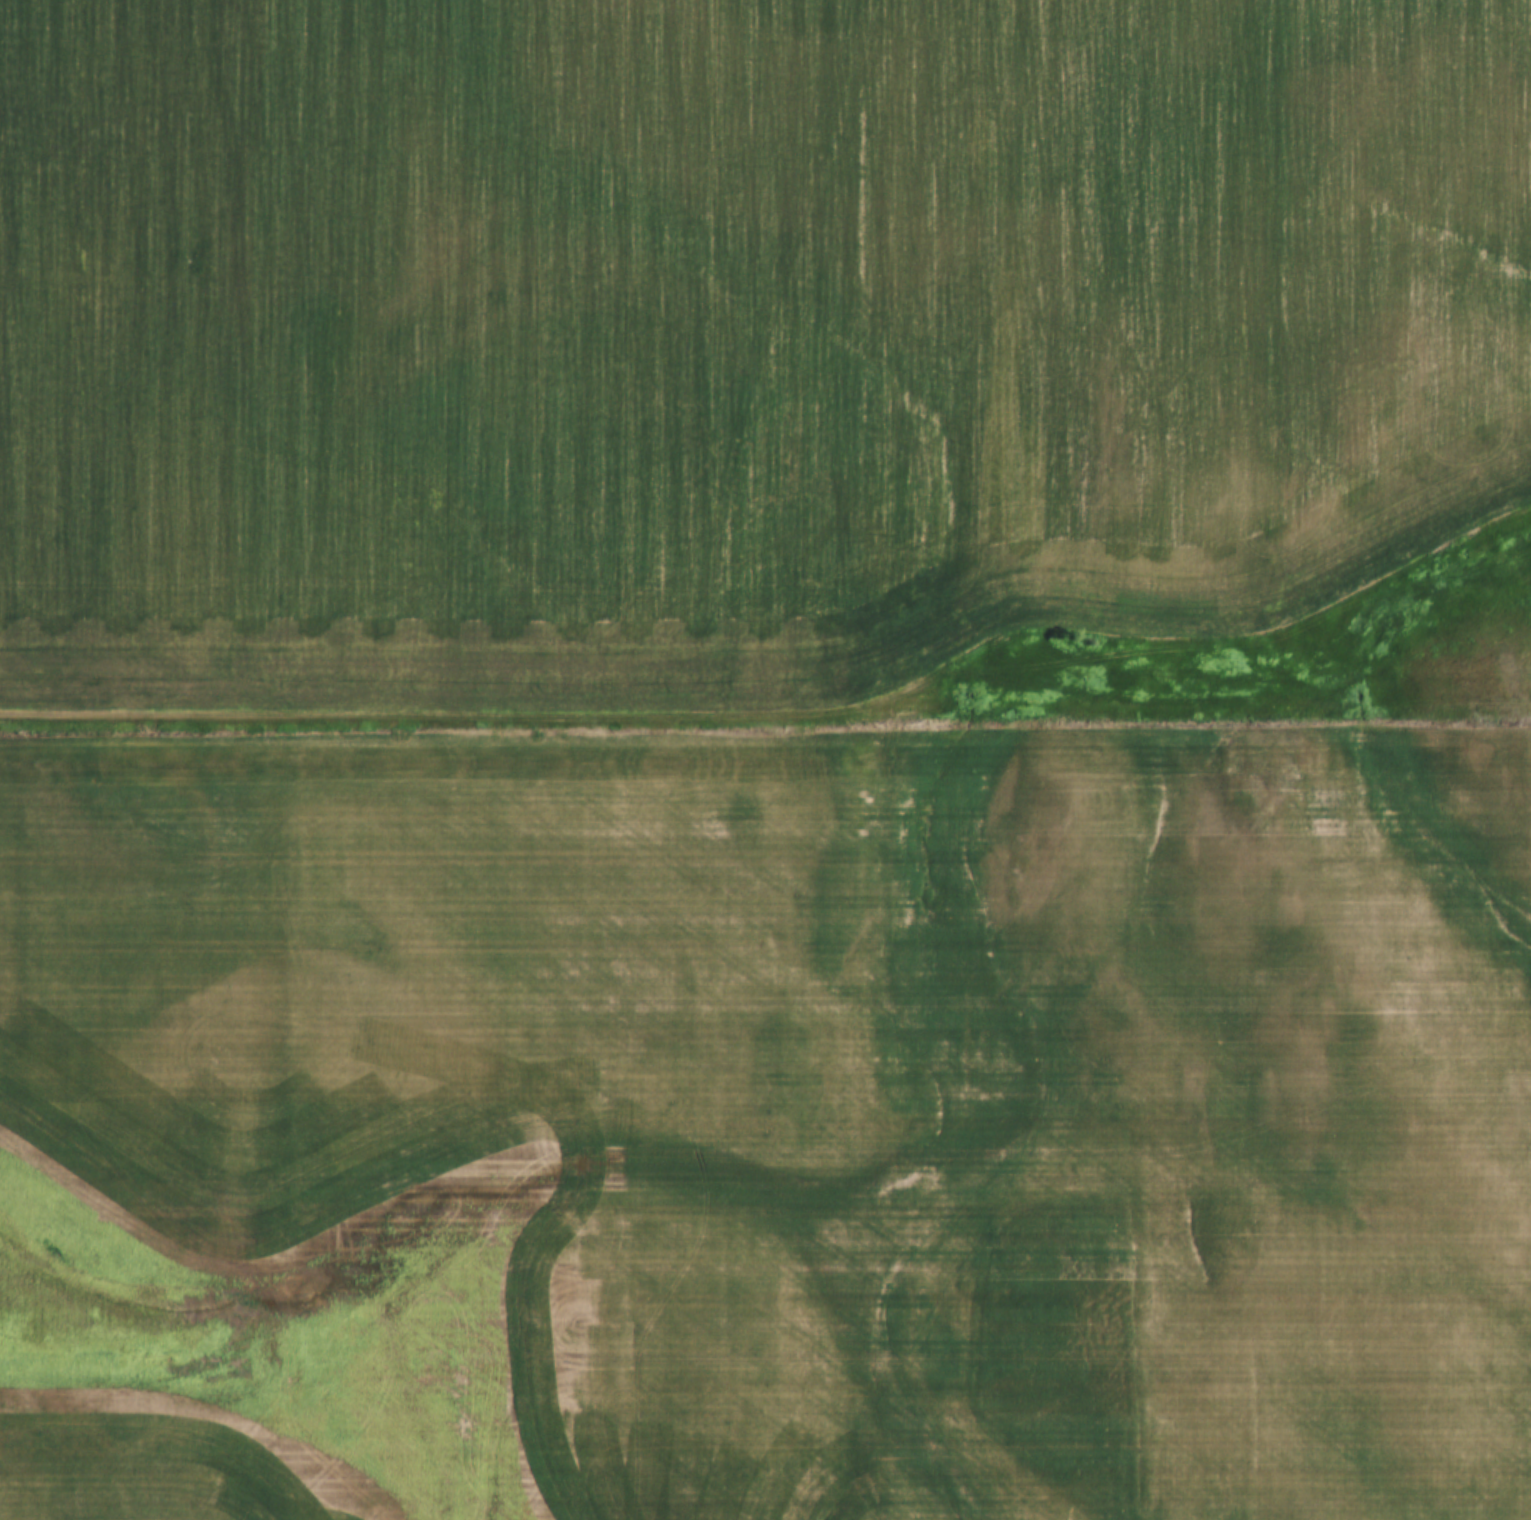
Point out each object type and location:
road: (770, 714)

